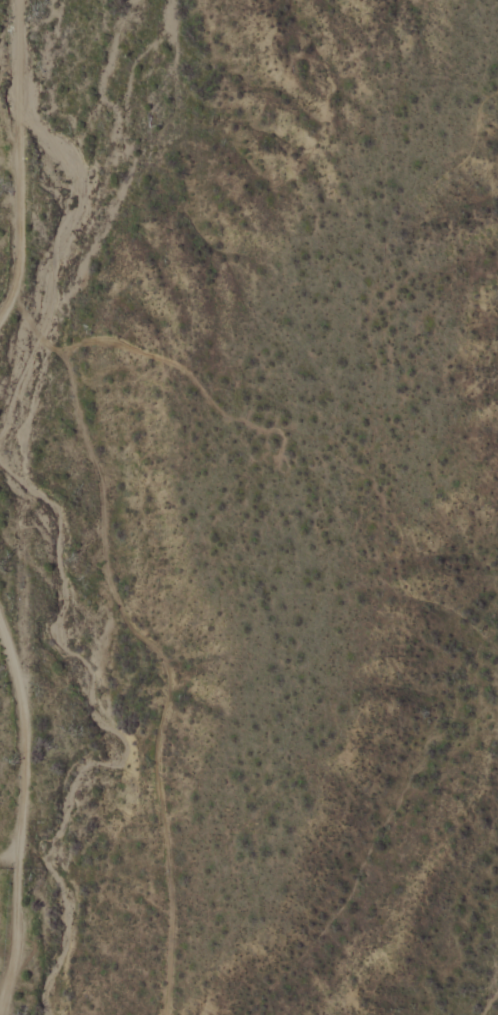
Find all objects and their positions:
road: (16, 159)
road: (24, 816)

